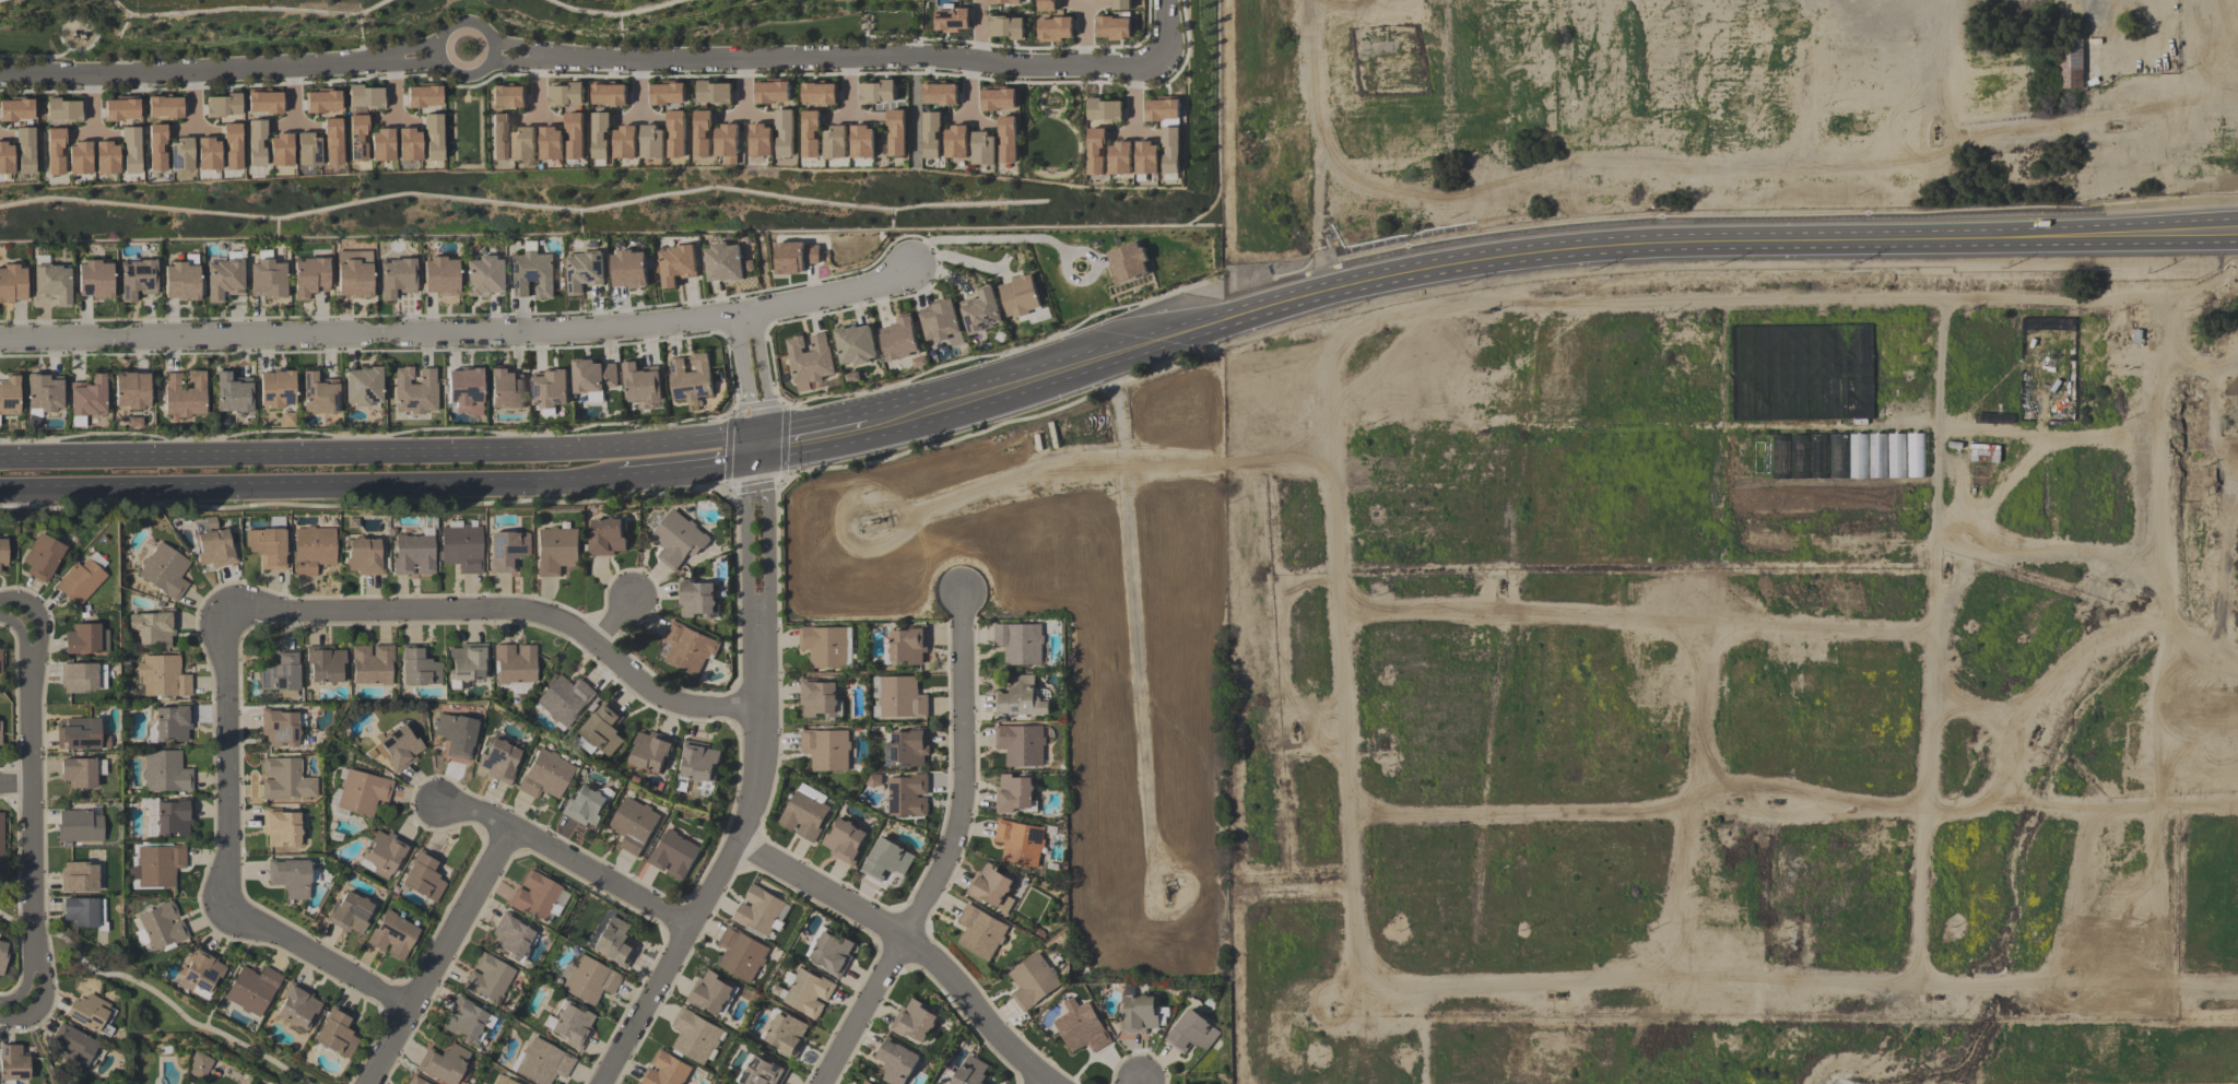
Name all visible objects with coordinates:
building: (1004, 2)
building: (1045, 4)
building: (1120, 4)
building: (951, 20)
building: (1005, 27)
building: (1112, 27)
building: (1055, 28)
road: (1166, 32)
road: (980, 33)
road: (1083, 37)
road: (416, 45)
road: (516, 48)
road: (78, 49)
road: (34, 55)
road: (515, 55)
road: (1185, 56)
road: (848, 57)
road: (416, 61)
building: (2071, 64)
road: (908, 72)
road: (200, 73)
road: (796, 73)
road: (848, 73)
road: (537, 74)
road: (587, 74)
road: (742, 74)
road: (393, 75)
road: (462, 75)
road: (638, 75)
road: (691, 75)
road: (968, 76)
road: (343, 79)
road: (1050, 81)
road: (293, 82)
road: (243, 84)
road: (464, 85)
road: (1132, 85)
road: (538, 86)
road: (639, 86)
road: (851, 86)
road: (193, 87)
road: (143, 89)
road: (743, 89)
road: (42, 90)
road: (93, 90)
road: (968, 90)
road: (392, 91)
building: (714, 92)
building: (771, 92)
building: (876, 92)
building: (818, 93)
building: (609, 94)
building: (667, 94)
building: (940, 94)
building: (565, 95)
building: (364, 96)
building: (422, 96)
building: (506, 96)
building: (998, 98)
road: (295, 99)
road: (190, 101)
building: (263, 102)
building: (321, 102)
road: (1134, 102)
road: (92, 105)
building: (222, 105)
building: (164, 106)
building: (15, 109)
building: (120, 109)
building: (62, 110)
building: (1104, 110)
building: (1163, 111)
petroleum well: (2111, 125)
park: (464, 129)
petroleum well: (1934, 131)
building: (784, 132)
building: (896, 132)
building: (675, 133)
building: (702, 133)
building: (810, 133)
park: (1052, 133)
building: (931, 134)
building: (575, 135)
building: (600, 135)
building: (432, 137)
building: (499, 137)
building: (356, 138)
building: (1006, 139)
building: (759, 140)
building: (331, 141)
building: (862, 141)
building: (955, 141)
building: (256, 142)
building: (624, 142)
building: (652, 142)
building: (834, 142)
building: (551, 143)
building: (727, 143)
building: (380, 144)
building: (408, 144)
building: (523, 144)
building: (232, 145)
building: (156, 146)
building: (982, 149)
building: (24, 150)
building: (130, 150)
building: (280, 150)
building: (307, 150)
building: (1171, 150)
building: (54, 151)
building: (1096, 151)
building: (208, 153)
building: (180, 154)
building: (5, 157)
building: (78, 157)
building: (106, 157)
building: (1120, 157)
building: (1147, 157)
road: (987, 238)
road: (1080, 254)
road: (1541, 256)
building: (794, 257)
building: (722, 262)
building: (1127, 262)
building: (675, 264)
building: (628, 269)
building: (582, 272)
building: (353, 274)
building: (531, 274)
building: (439, 275)
building: (482, 275)
building: (309, 276)
building: (396, 278)
building: (137, 279)
building: (267, 279)
building: (94, 280)
building: (181, 280)
building: (223, 280)
building: (52, 283)
building: (12, 284)
building: (1020, 296)
building: (981, 311)
building: (941, 322)
road: (460, 335)
building: (899, 339)
building: (856, 344)
building: (809, 358)
building: (593, 378)
building: (690, 379)
road: (750, 380)
building: (641, 384)
building: (362, 387)
building: (275, 389)
building: (506, 389)
building: (550, 389)
building: (131, 390)
building: (414, 390)
building: (464, 390)
building: (43, 392)
building: (232, 393)
building: (9, 394)
building: (184, 394)
building: (318, 394)
building: (87, 397)
road: (810, 438)
traffic signals: (754, 447)
road: (378, 451)
building: (1983, 452)
building: (1895, 455)
building: (1857, 456)
road: (687, 469)
road: (308, 485)
petroleum well: (872, 519)
building: (606, 537)
building: (678, 539)
building: (269, 544)
building: (463, 547)
building: (215, 549)
building: (314, 550)
building: (507, 550)
building: (557, 551)
building: (3, 552)
building: (414, 555)
building: (364, 556)
building: (44, 557)
building: (165, 572)
petroleum well: (2110, 578)
building: (80, 582)
building: (696, 598)
road: (17, 600)
road: (508, 613)
road: (615, 616)
road: (9, 624)
building: (153, 627)
road: (42, 634)
building: (85, 639)
building: (1020, 643)
road: (24, 645)
building: (825, 646)
building: (908, 646)
building: (688, 648)
building: (0, 661)
building: (326, 663)
building: (467, 663)
building: (515, 663)
building: (373, 664)
building: (419, 667)
building: (282, 673)
building: (83, 676)
building: (163, 676)
building: (817, 697)
building: (902, 697)
building: (1020, 698)
building: (565, 699)
building: (173, 723)
petroleum well: (1293, 726)
building: (280, 728)
building: (602, 731)
petroleum well: (2028, 731)
building: (0, 733)
building: (81, 734)
building: (458, 734)
building: (1021, 744)
building: (399, 747)
building: (908, 749)
building: (826, 750)
building: (652, 751)
building: (498, 761)
building: (699, 761)
building: (79, 771)
building: (166, 771)
building: (545, 775)
building: (285, 780)
road: (756, 785)
road: (15, 787)
building: (363, 792)
building: (1013, 793)
building: (908, 796)
petroleum well: (1774, 800)
building: (586, 806)
road: (32, 812)
building: (803, 815)
building: (175, 817)
building: (634, 825)
building: (80, 826)
building: (281, 827)
building: (1, 836)
building: (844, 841)
building: (1020, 843)
road: (942, 852)
building: (386, 853)
building: (673, 855)
road: (566, 860)
building: (886, 860)
building: (158, 865)
road: (226, 869)
building: (79, 876)
building: (424, 876)
building: (292, 877)
building: (991, 887)
petroleum well: (1166, 889)
road: (820, 891)
building: (535, 896)
building: (759, 911)
building: (83, 914)
building: (351, 914)
building: (161, 928)
building: (980, 932)
building: (393, 935)
building: (510, 935)
building: (615, 942)
building: (833, 953)
building: (741, 954)
building: (2, 956)
road: (439, 956)
building: (201, 973)
road: (227, 978)
building: (488, 979)
building: (589, 980)
building: (1033, 981)
road: (23, 988)
building: (252, 990)
road: (154, 992)
building: (711, 992)
petroleum well: (1555, 992)
building: (809, 993)
petroleum well: (1932, 998)
building: (297, 1005)
road: (43, 1006)
road: (974, 1010)
building: (91, 1013)
building: (1143, 1014)
building: (464, 1020)
building: (914, 1021)
building: (573, 1026)
building: (1082, 1027)
building: (337, 1033)
building: (1191, 1033)
building: (788, 1034)
building: (695, 1036)
building: (75, 1047)
building: (896, 1061)
building: (13, 1063)
building: (444, 1063)
building: (543, 1063)
building: (200, 1065)
building: (667, 1070)
building: (765, 1072)
building: (971, 1072)
building: (415, 1081)
building: (508, 1082)
building: (273, 1083)
building: (867, 1083)
road: (1140, 1083)

